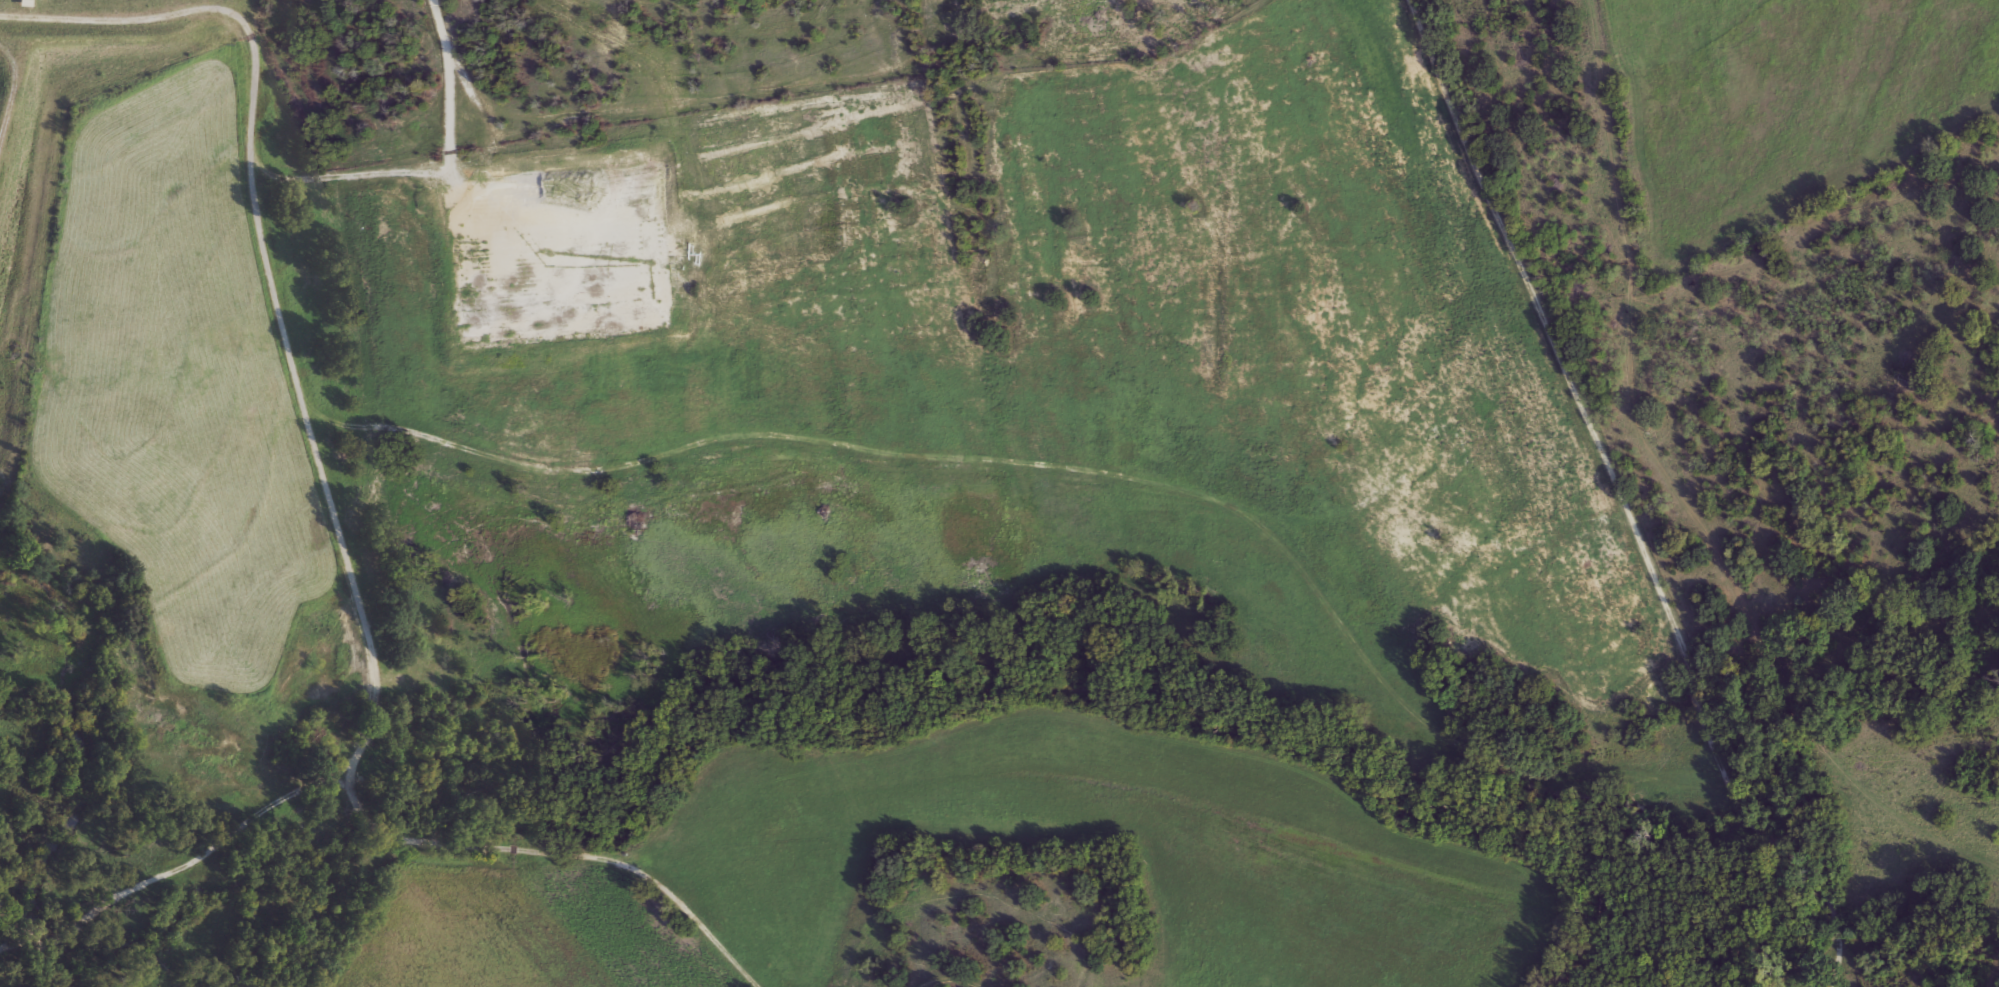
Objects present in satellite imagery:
road: (10, 85)
road: (426, 170)
road: (746, 436)
road: (1664, 597)
road: (366, 821)
road: (173, 856)
road: (1811, 872)
road: (948, 978)

